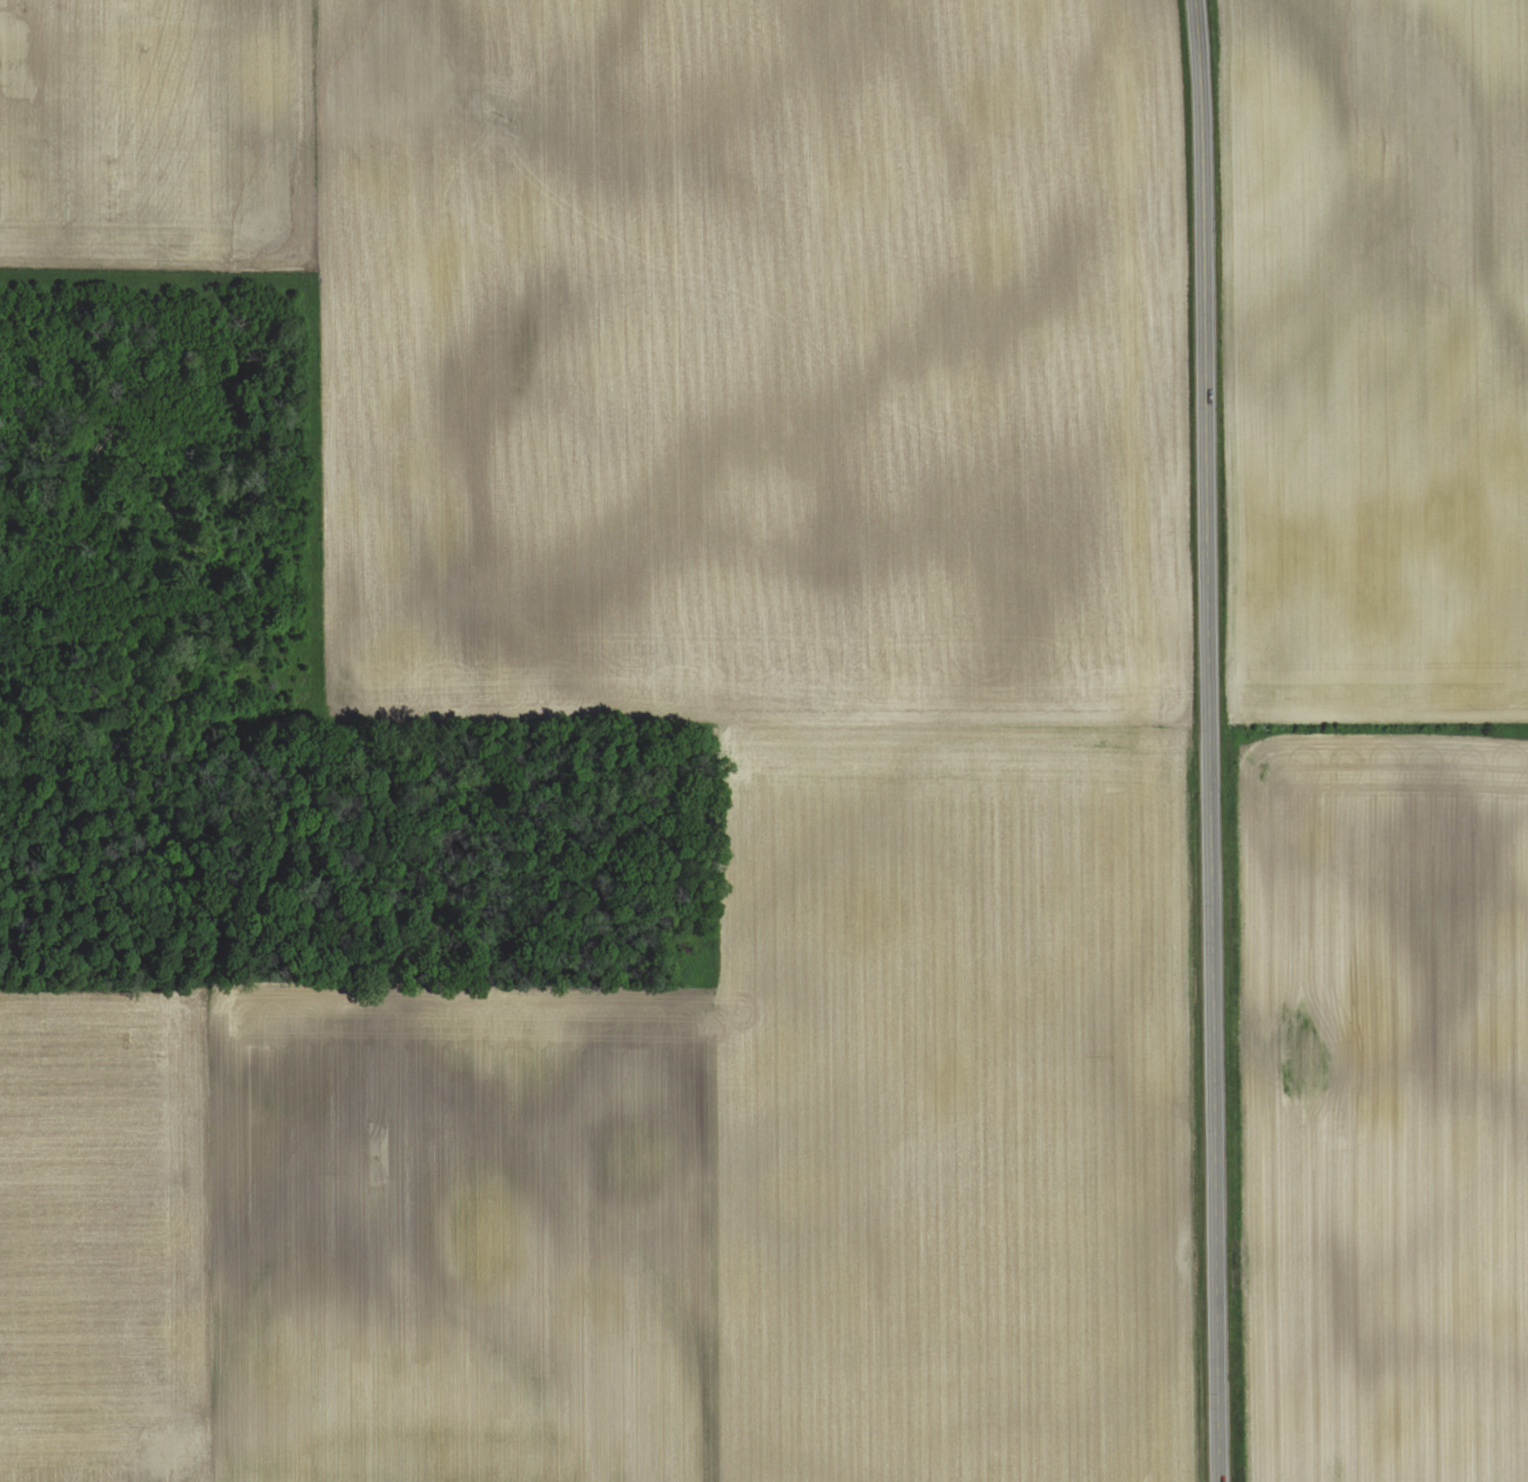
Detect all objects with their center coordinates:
road: (1214, 740)

